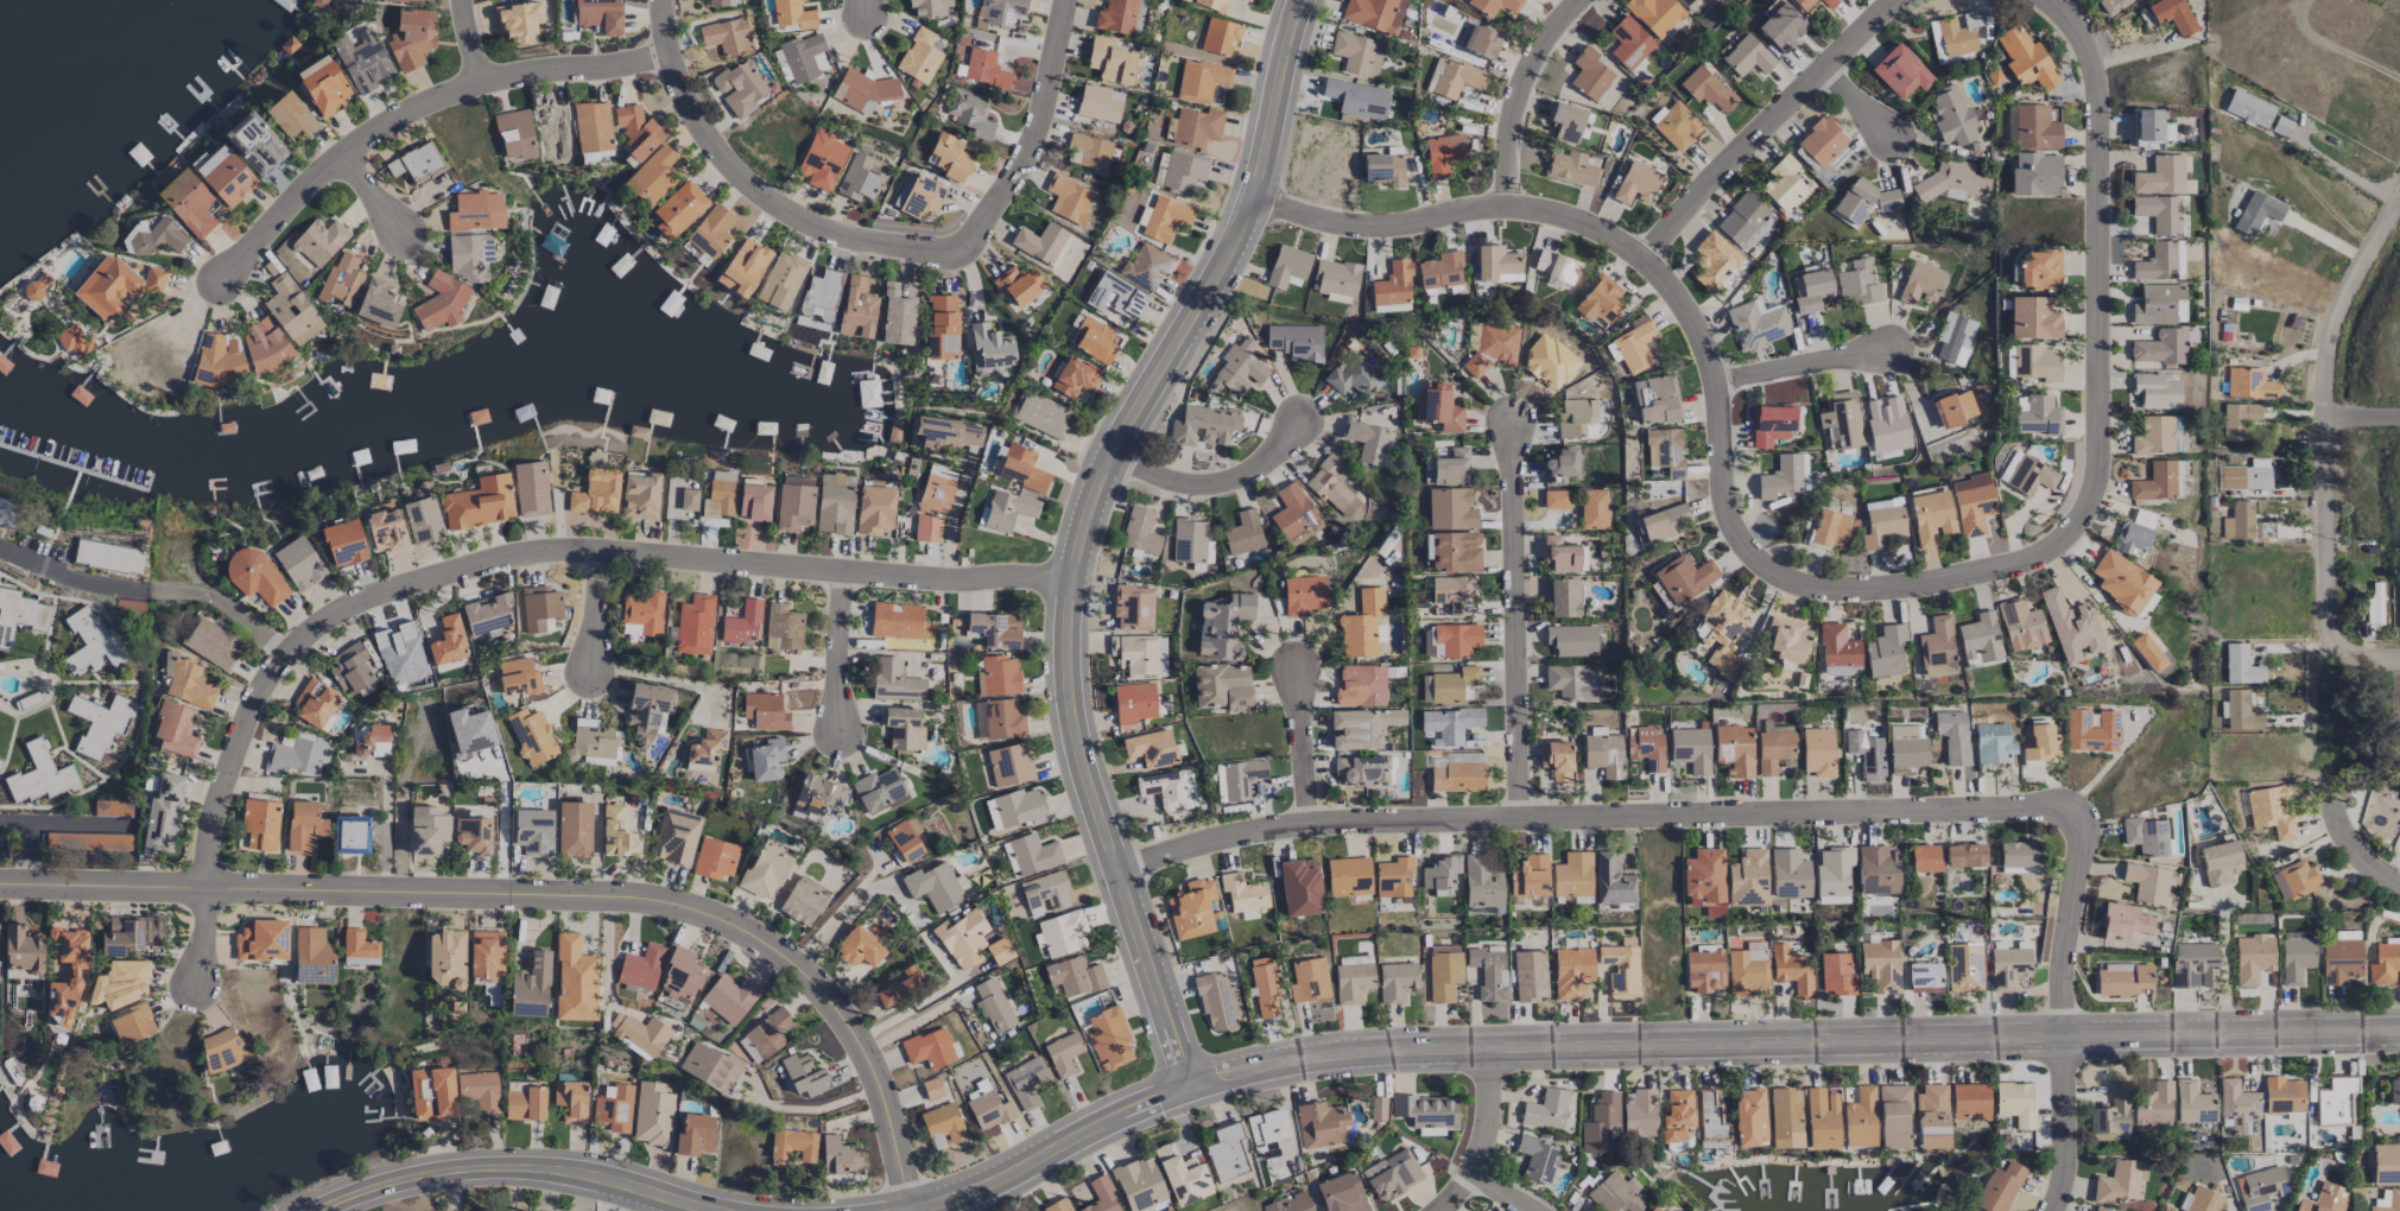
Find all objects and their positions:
building: (1247, 0)
building: (411, 1)
building: (721, 2)
building: (1801, 4)
building: (1826, 4)
building: (1210, 5)
building: (1691, 5)
building: (2108, 5)
building: (1493, 6)
road: (870, 7)
building: (929, 7)
building: (1000, 12)
building: (599, 14)
building: (792, 14)
building: (1374, 14)
building: (1654, 14)
building: (1115, 15)
building: (2172, 15)
building: (1138, 18)
building: (517, 21)
building: (1780, 26)
building: (1955, 33)
building: (726, 36)
building: (1218, 37)
building: (411, 38)
road: (470, 39)
building: (1628, 43)
building: (1481, 44)
road: (2335, 49)
building: (1356, 53)
building: (918, 56)
building: (1747, 56)
building: (800, 57)
building: (2025, 58)
building: (362, 61)
building: (1109, 61)
building: (780, 66)
building: (984, 69)
building: (1899, 71)
building: (1589, 74)
building: (1456, 78)
building: (1199, 80)
building: (323, 85)
building: (739, 88)
building: (1706, 89)
building: (860, 90)
road: (1518, 93)
building: (1355, 99)
road: (1856, 101)
building: (1098, 103)
road: (409, 106)
building: (2248, 108)
building: (969, 113)
building: (290, 115)
road: (1767, 118)
building: (1951, 118)
building: (1564, 121)
building: (2151, 126)
building: (591, 127)
building: (1196, 127)
building: (1677, 127)
building: (2034, 127)
building: (635, 128)
building: (552, 129)
building: (514, 134)
building: (1820, 141)
building: (254, 144)
building: (1089, 151)
building: (1443, 153)
building: (949, 158)
building: (822, 160)
building: (416, 163)
building: (1382, 169)
building: (1571, 169)
building: (1183, 171)
road: (2343, 172)
building: (2034, 175)
building: (224, 176)
building: (2159, 176)
building: (651, 177)
building: (859, 178)
building: (1952, 182)
building: (1635, 183)
building: (1784, 185)
road: (373, 192)
building: (920, 197)
building: (1069, 198)
building: (1863, 201)
building: (188, 203)
building: (677, 209)
building: (475, 211)
building: (2256, 213)
building: (2159, 214)
building: (1165, 218)
building: (1741, 218)
building: (710, 232)
building: (1756, 233)
building: (319, 241)
road: (882, 241)
building: (1039, 242)
building: (469, 258)
building: (2179, 259)
building: (1714, 261)
building: (1496, 264)
building: (2155, 264)
building: (1286, 266)
building: (1554, 266)
building: (742, 267)
building: (1144, 267)
building: (2038, 270)
building: (1440, 271)
building: (1336, 278)
building: (780, 280)
building: (341, 281)
building: (1858, 283)
building: (1920, 283)
building: (1018, 285)
building: (1393, 285)
building: (114, 286)
building: (819, 296)
building: (1114, 297)
building: (1598, 300)
building: (441, 302)
building: (2159, 305)
building: (855, 307)
building: (1391, 309)
building: (291, 310)
building: (895, 317)
building: (2032, 318)
building: (1756, 325)
building: (941, 328)
building: (1953, 336)
building: (74, 341)
building: (1094, 341)
building: (1296, 342)
building: (264, 345)
building: (1492, 347)
building: (1635, 347)
building: (2160, 347)
building: (988, 351)
building: (216, 361)
building: (2035, 362)
road: (1809, 368)
building: (1237, 369)
building: (1075, 378)
building: (1355, 379)
building: (2249, 383)
building: (2154, 391)
building: (1655, 400)
building: (1955, 407)
building: (1438, 408)
road: (2364, 412)
building: (1040, 414)
building: (1576, 416)
building: (2038, 416)
building: (1842, 419)
building: (2237, 419)
building: (1771, 425)
building: (1203, 426)
building: (945, 435)
building: (2155, 436)
building: (1366, 440)
building: (1664, 450)
building: (1559, 465)
building: (1450, 467)
building: (1021, 468)
road: (2328, 469)
building: (941, 474)
building: (2025, 474)
building: (722, 475)
road: (1221, 476)
building: (1780, 477)
building: (2250, 477)
building: (834, 480)
building: (2158, 482)
building: (1332, 486)
building: (531, 489)
building: (595, 493)
building: (680, 495)
building: (639, 496)
building: (935, 496)
building: (1556, 499)
building: (718, 500)
building: (753, 502)
building: (480, 503)
building: (793, 503)
building: (1882, 503)
building: (1971, 503)
building: (834, 509)
building: (874, 509)
building: (1006, 509)
building: (1450, 509)
building: (1592, 509)
building: (1292, 512)
building: (8, 513)
building: (1931, 518)
road: (1078, 521)
building: (2237, 521)
building: (1661, 522)
building: (1829, 528)
building: (1881, 528)
building: (926, 530)
building: (386, 531)
building: (1140, 531)
building: (1242, 533)
building: (2133, 533)
building: (1188, 540)
building: (343, 543)
road: (954, 546)
building: (1454, 552)
building: (1559, 554)
building: (107, 557)
road: (486, 558)
building: (298, 563)
building: (255, 576)
building: (1684, 578)
building: (2121, 582)
road: (146, 589)
road: (1817, 589)
building: (1452, 594)
building: (1303, 595)
building: (1563, 597)
building: (2374, 603)
building: (128, 607)
building: (539, 608)
building: (1133, 608)
building: (642, 613)
road: (1514, 613)
building: (487, 614)
road: (591, 614)
building: (19, 615)
building: (895, 620)
building: (694, 624)
building: (741, 624)
building: (1363, 626)
building: (2020, 626)
building: (1222, 627)
building: (2069, 627)
building: (781, 628)
building: (993, 629)
building: (1721, 630)
building: (1457, 639)
building: (1786, 639)
building: (1978, 639)
building: (1571, 640)
building: (90, 641)
building: (448, 641)
building: (210, 642)
building: (1836, 646)
road: (2362, 647)
building: (1936, 648)
building: (1885, 651)
building: (2146, 652)
building: (400, 653)
road: (838, 654)
building: (1139, 655)
building: (2240, 666)
building: (350, 668)
road: (654, 673)
building: (998, 676)
building: (517, 677)
building: (894, 680)
building: (185, 681)
building: (1571, 681)
building: (1454, 685)
building: (1360, 686)
building: (1222, 687)
building: (314, 702)
building: (1133, 703)
building: (646, 709)
building: (764, 711)
building: (2240, 712)
building: (1002, 719)
building: (99, 722)
building: (1457, 724)
building: (1361, 728)
building: (175, 729)
building: (904, 729)
building: (2091, 730)
building: (531, 736)
building: (1952, 736)
road: (1304, 740)
building: (372, 741)
building: (593, 743)
building: (2039, 743)
building: (1991, 744)
building: (1645, 747)
building: (1151, 749)
building: (1690, 749)
building: (1734, 749)
building: (704, 750)
building: (1773, 750)
building: (1817, 752)
building: (1866, 753)
building: (1603, 755)
building: (1906, 755)
building: (295, 756)
building: (765, 759)
building: (1556, 759)
building: (1009, 765)
building: (1360, 771)
building: (1458, 773)
building: (39, 775)
building: (1241, 778)
building: (1169, 790)
building: (879, 791)
building: (816, 794)
road: (1804, 806)
building: (1020, 807)
building: (112, 809)
building: (2271, 811)
building: (164, 813)
road: (376, 819)
road: (80, 824)
building: (260, 824)
building: (303, 825)
road: (499, 828)
building: (574, 829)
building: (428, 830)
building: (533, 832)
building: (615, 832)
building: (2145, 836)
building: (349, 837)
building: (675, 837)
road: (27, 841)
building: (89, 841)
building: (903, 842)
road: (2358, 844)
building: (1033, 854)
building: (1963, 856)
building: (2018, 857)
building: (714, 858)
building: (1923, 858)
building: (2218, 863)
building: (766, 868)
building: (1876, 870)
building: (1439, 871)
building: (1788, 874)
building: (1831, 874)
building: (1572, 875)
building: (1348, 876)
building: (1393, 877)
building: (1528, 877)
building: (1746, 879)
building: (2293, 879)
building: (1704, 881)
building: (1481, 882)
building: (1611, 882)
building: (2146, 882)
building: (933, 886)
building: (1299, 887)
road: (14, 888)
building: (1044, 893)
road: (558, 894)
building: (1242, 894)
building: (802, 901)
building: (1191, 909)
road: (840, 912)
building: (2122, 922)
road: (2369, 927)
building: (1062, 933)
building: (129, 934)
building: (2345, 934)
building: (962, 939)
building: (261, 940)
building: (357, 947)
building: (857, 947)
building: (23, 950)
building: (486, 955)
building: (311, 957)
building: (445, 958)
building: (2250, 958)
building: (2294, 959)
building: (2339, 960)
building: (2383, 963)
building: (1880, 965)
building: (2192, 965)
building: (640, 968)
building: (1704, 968)
building: (1964, 968)
building: (2007, 968)
road: (2224, 968)
building: (1620, 969)
building: (1746, 969)
building: (1791, 969)
building: (1443, 971)
building: (1571, 972)
building: (67, 974)
building: (1489, 974)
building: (1836, 974)
building: (1530, 975)
building: (680, 976)
building: (1074, 976)
building: (1924, 977)
building: (1353, 978)
building: (1309, 979)
building: (2121, 979)
building: (574, 981)
building: (1395, 982)
building: (120, 983)
building: (530, 987)
building: (899, 987)
building: (1264, 988)
building: (729, 998)
building: (1217, 1002)
building: (993, 1006)
building: (132, 1025)
building: (639, 1033)
building: (765, 1035)
building: (1108, 1036)
road: (1607, 1044)
building: (929, 1048)
building: (220, 1050)
building: (1062, 1054)
building: (710, 1067)
building: (804, 1076)
building: (1025, 1082)
building: (931, 1089)
building: (2393, 1090)
building: (479, 1091)
building: (431, 1093)
building: (2281, 1095)
building: (570, 1101)
building: (524, 1102)
building: (1969, 1102)
building: (2014, 1103)
building: (2192, 1103)
building: (2333, 1103)
building: (2153, 1104)
building: (2236, 1105)
building: (613, 1108)
road: (815, 1108)
building: (1376, 1109)
building: (1545, 1109)
building: (987, 1110)
building: (1425, 1110)
road: (1490, 1112)
building: (653, 1115)
building: (1639, 1115)
building: (2110, 1115)
building: (1748, 1117)
building: (1893, 1117)
building: (1930, 1117)
building: (1676, 1118)
building: (1784, 1118)
building: (1820, 1118)
building: (1857, 1118)
building: (1709, 1122)
building: (1319, 1124)
building: (1600, 1124)
building: (942, 1126)
building: (1267, 1134)
building: (695, 1135)
building: (792, 1145)
building: (1226, 1153)
building: (838, 1156)
road: (519, 1160)
building: (1537, 1160)
building: (2385, 1164)
building: (1391, 1174)
building: (1180, 1175)
building: (2119, 1181)
building: (1138, 1184)
building: (2260, 1186)
building: (1999, 1187)
road: (618, 1193)
building: (1340, 1193)
building: (1615, 1193)
road: (1455, 1194)
road: (1503, 1194)
building: (1100, 1197)
building: (2323, 1199)
building: (2203, 1200)
building: (2389, 1202)
building: (1288, 1204)
building: (1056, 1205)
building: (1652, 1209)
building: (2101, 1209)

